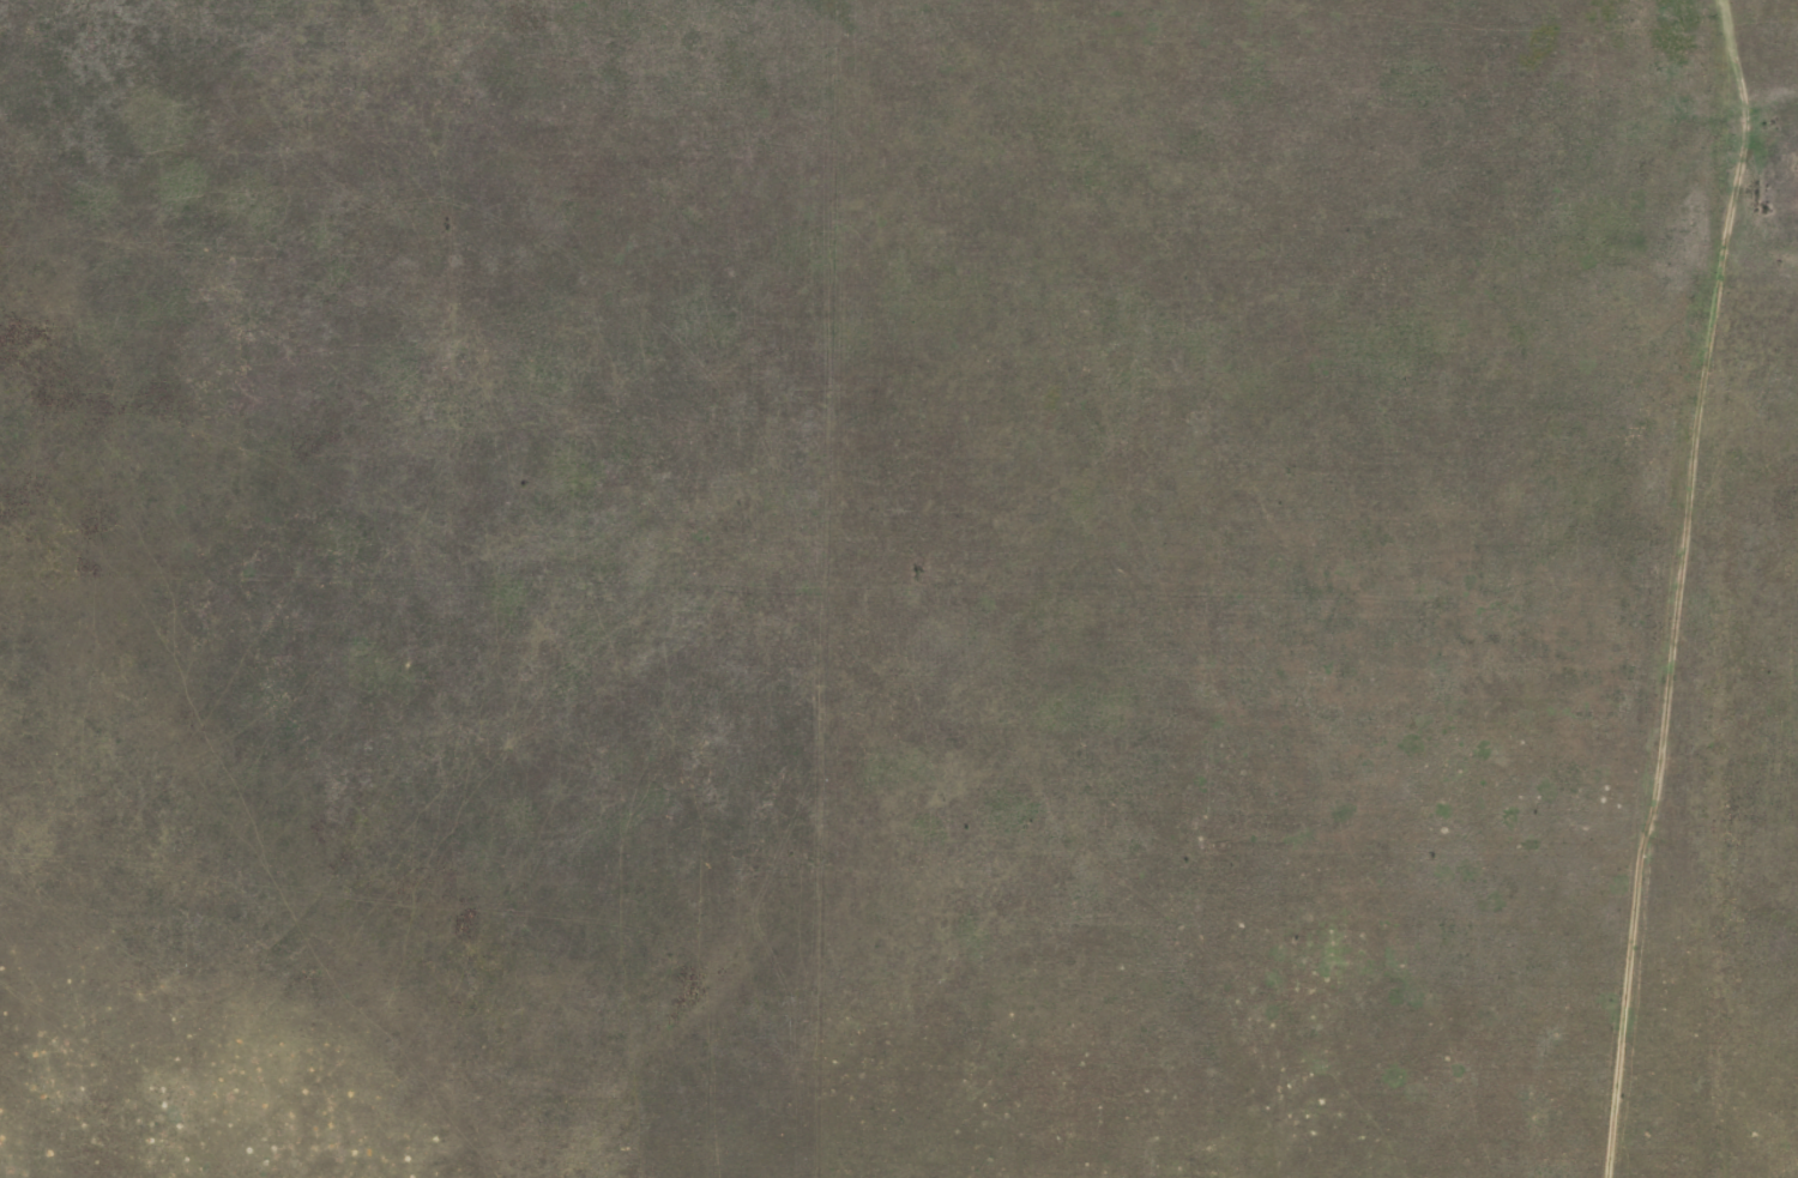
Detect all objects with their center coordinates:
road: (1744, 588)

